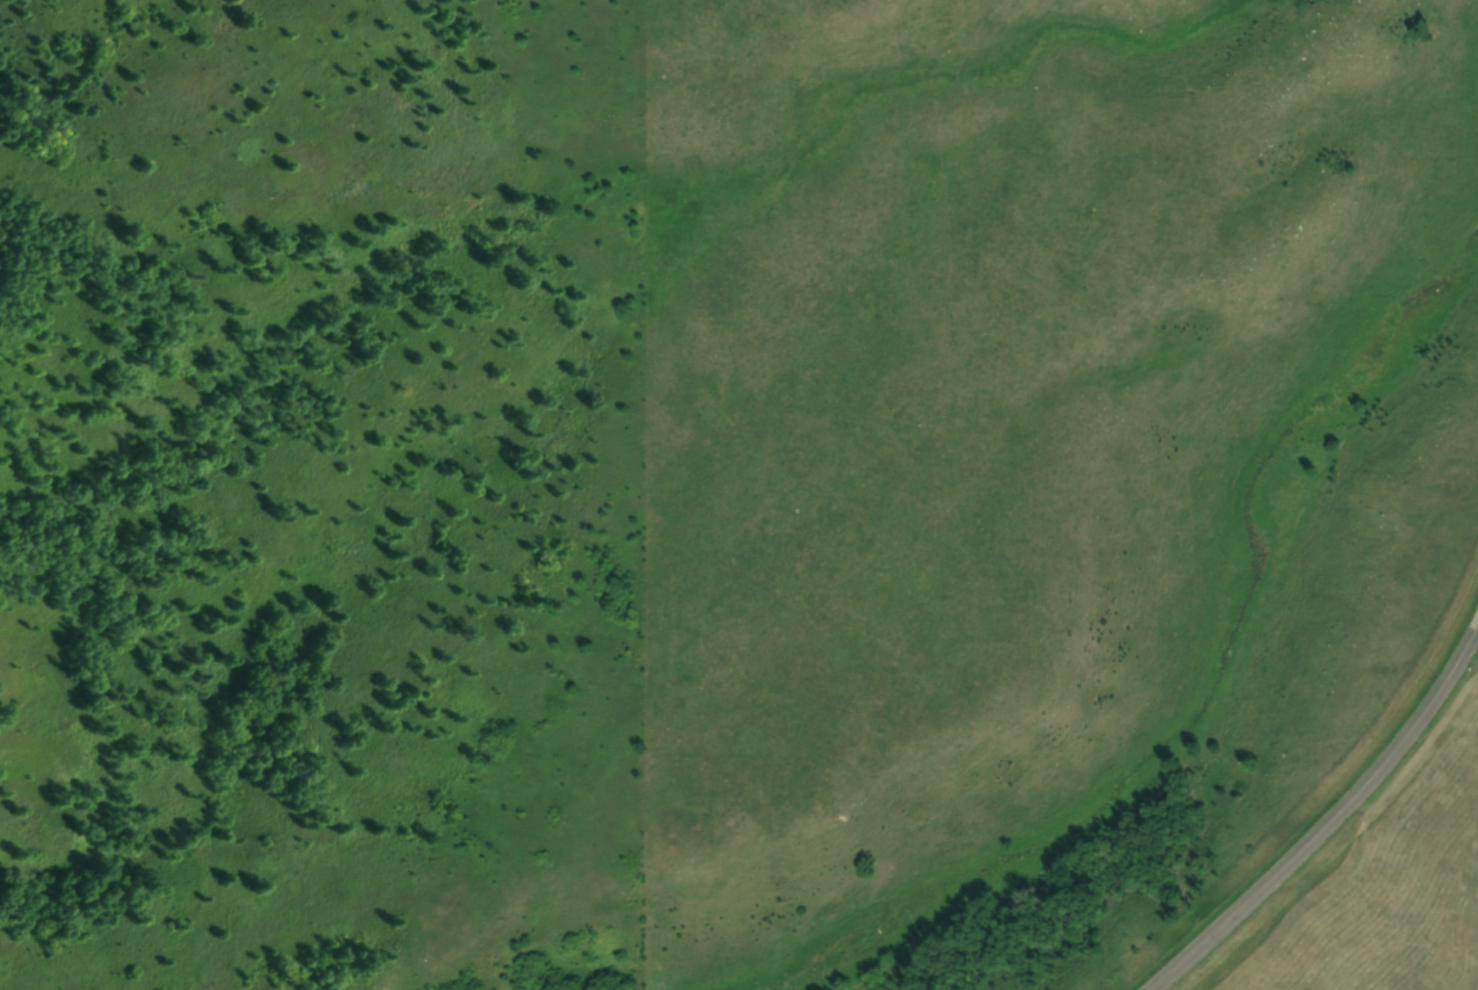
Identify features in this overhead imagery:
road: (1331, 813)

